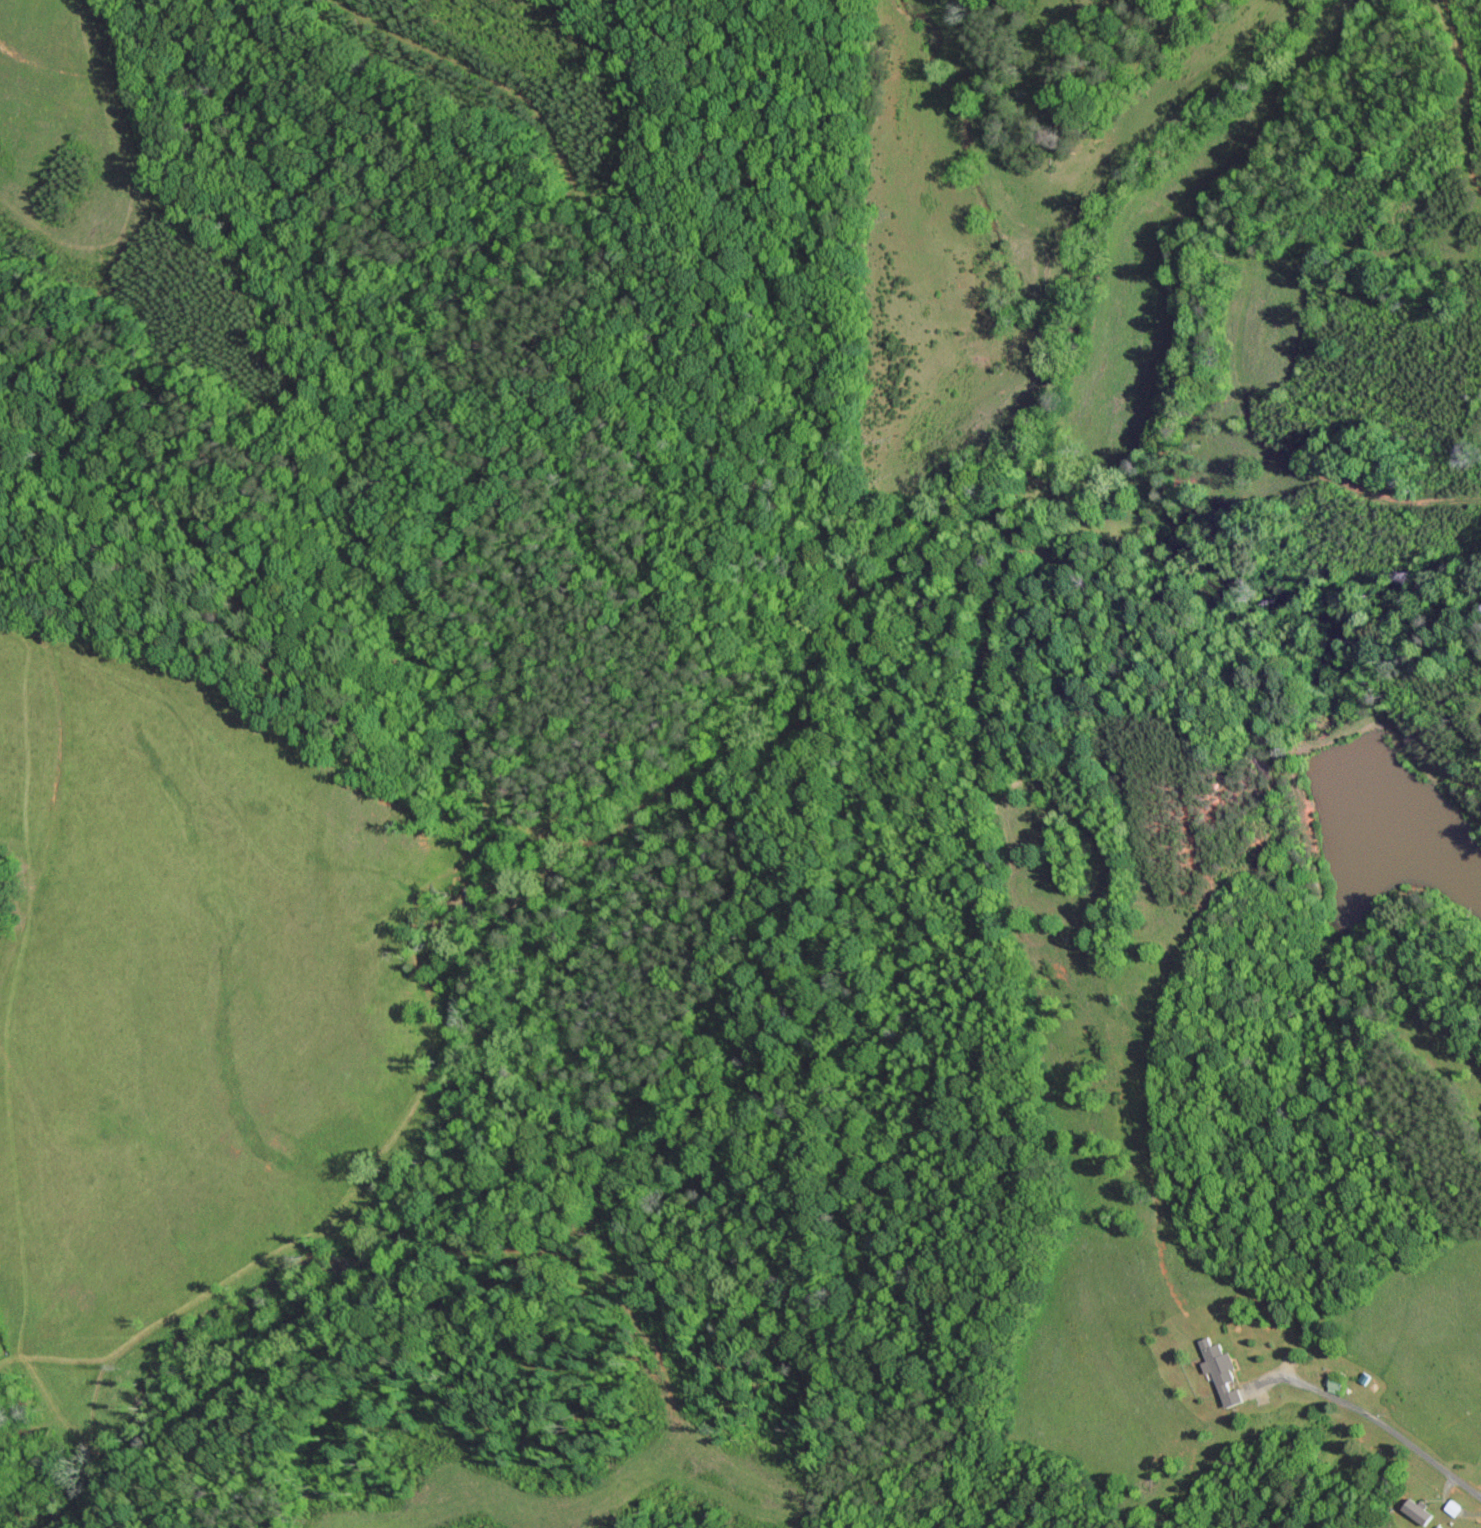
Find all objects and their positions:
building: (1218, 1369)
road: (1384, 1427)
building: (1414, 1509)

